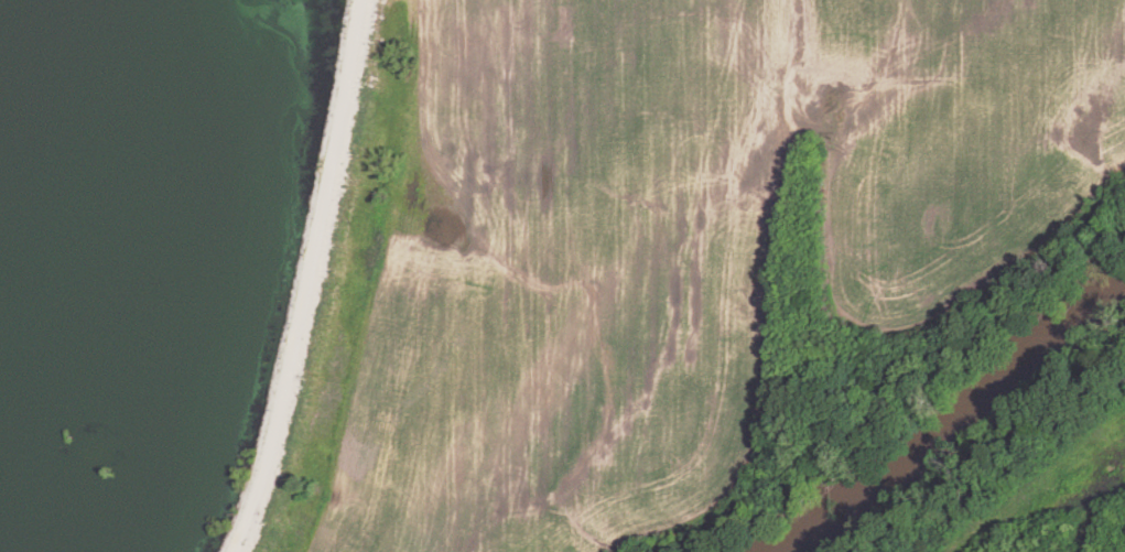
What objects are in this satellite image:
river: (967, 425)

